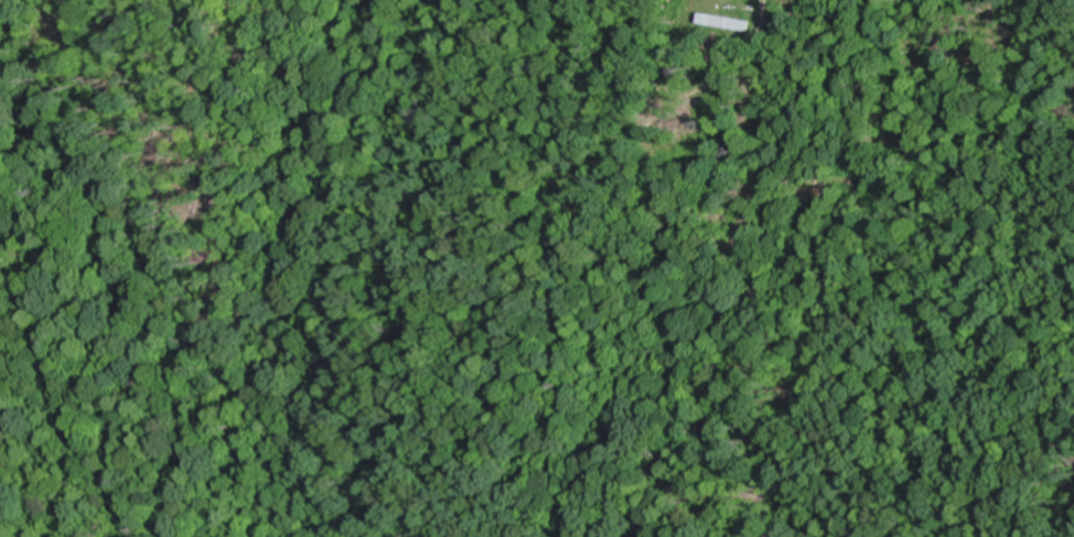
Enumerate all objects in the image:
road: (1056, 12)

